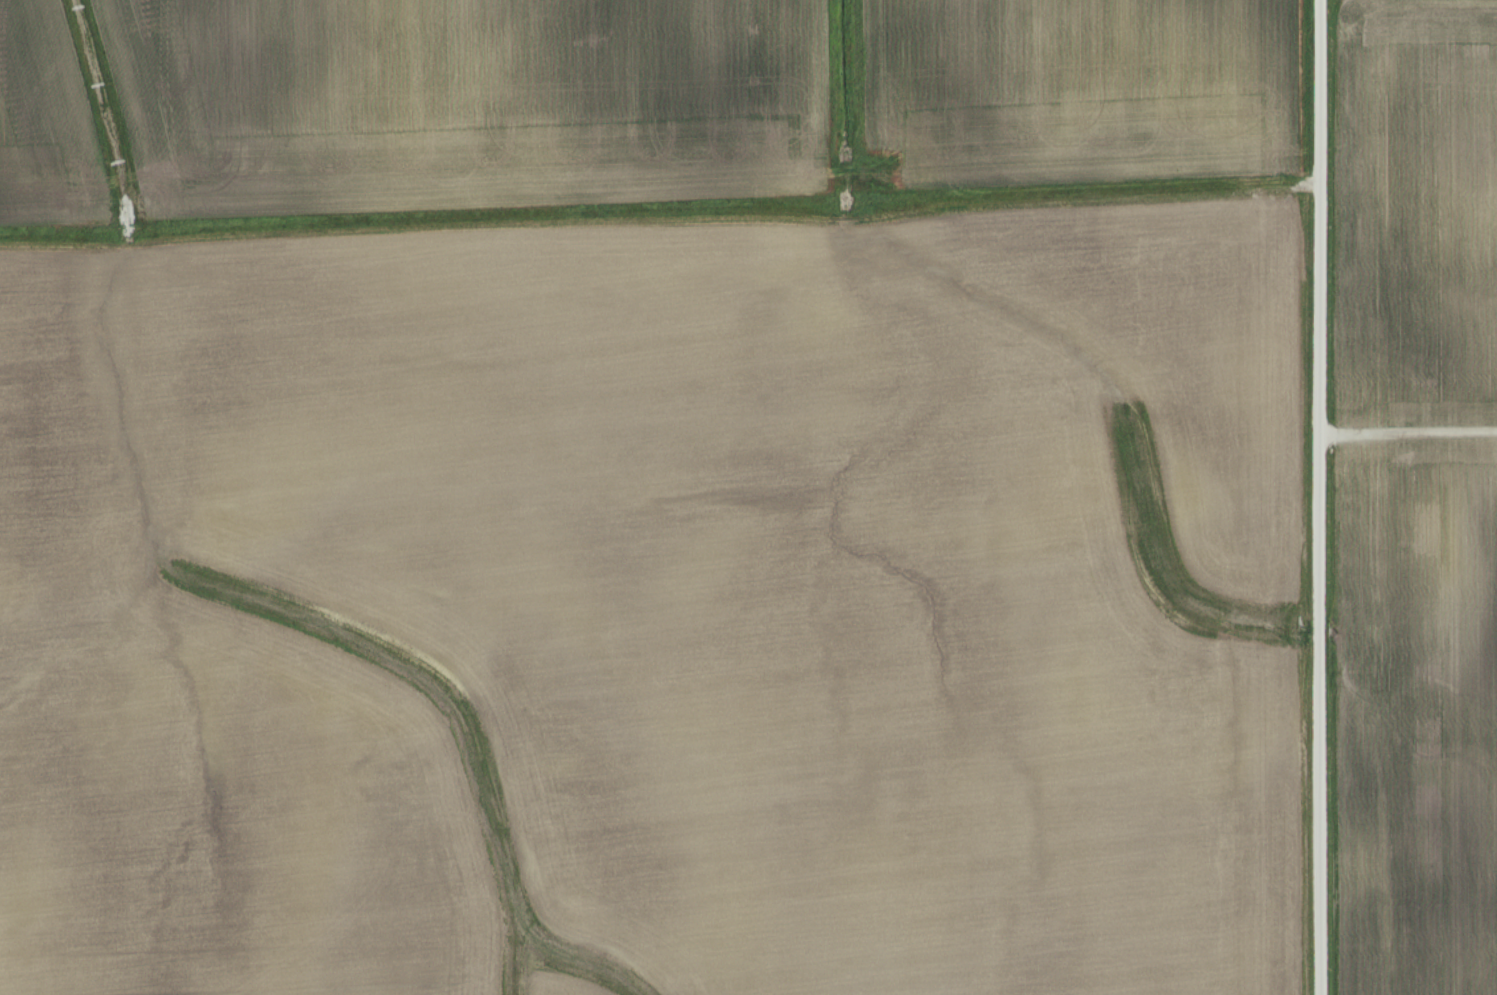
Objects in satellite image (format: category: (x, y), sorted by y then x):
road: (1318, 497)

